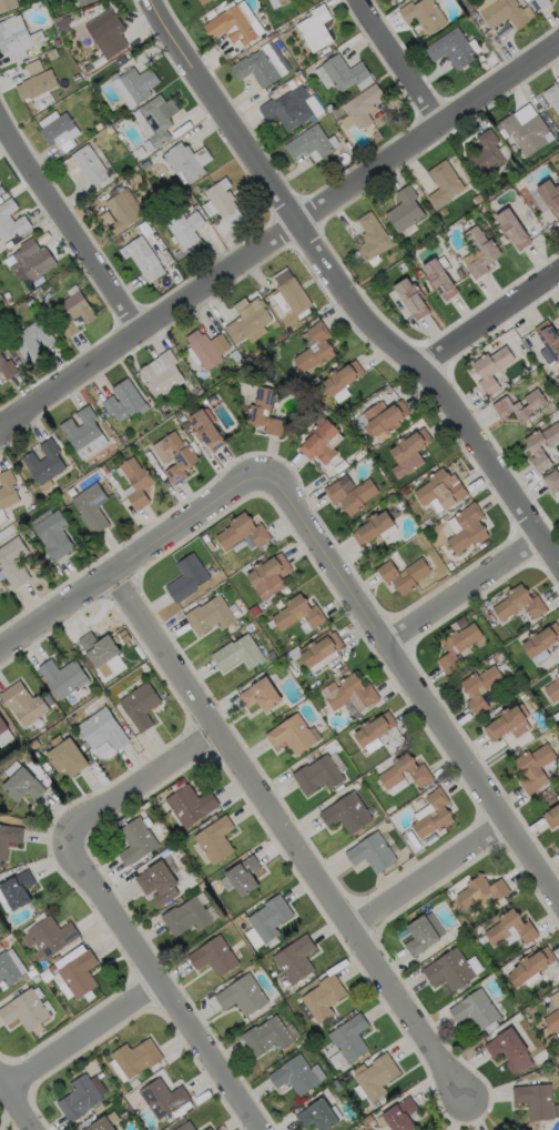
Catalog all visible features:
building: (83, 1)
building: (202, 1)
building: (277, 2)
building: (7, 3)
building: (539, 3)
building: (505, 11)
building: (423, 13)
building: (233, 23)
building: (315, 28)
building: (105, 32)
building: (13, 38)
building: (451, 49)
building: (51, 53)
road: (396, 61)
building: (262, 64)
building: (32, 67)
building: (342, 74)
building: (35, 84)
building: (134, 84)
building: (552, 97)
building: (362, 107)
building: (291, 108)
building: (155, 118)
building: (527, 129)
building: (59, 131)
building: (311, 142)
building: (486, 154)
building: (186, 161)
building: (84, 164)
building: (444, 183)
building: (550, 196)
building: (221, 203)
building: (404, 210)
building: (121, 211)
building: (10, 221)
road: (67, 229)
building: (181, 229)
building: (512, 229)
road: (281, 234)
building: (372, 236)
building: (491, 253)
building: (142, 259)
building: (29, 262)
building: (439, 279)
building: (291, 291)
road: (347, 292)
building: (413, 299)
building: (71, 311)
building: (557, 311)
building: (248, 321)
road: (494, 321)
building: (31, 341)
building: (548, 341)
building: (206, 349)
building: (314, 350)
building: (7, 369)
building: (480, 370)
building: (161, 373)
building: (342, 379)
building: (123, 402)
building: (518, 405)
building: (264, 414)
building: (380, 420)
building: (205, 428)
building: (83, 433)
building: (321, 442)
building: (533, 447)
building: (407, 452)
building: (175, 457)
building: (43, 463)
building: (551, 481)
building: (134, 482)
building: (439, 490)
building: (6, 493)
building: (348, 493)
building: (91, 508)
building: (370, 527)
building: (466, 528)
building: (241, 532)
building: (53, 535)
road: (134, 557)
building: (13, 563)
building: (266, 574)
building: (402, 574)
building: (185, 577)
road: (459, 587)
building: (531, 603)
building: (309, 612)
building: (210, 615)
building: (539, 639)
building: (457, 645)
building: (96, 647)
building: (317, 649)
building: (237, 653)
building: (61, 677)
building: (478, 689)
building: (552, 689)
road: (416, 693)
building: (348, 694)
building: (258, 695)
building: (21, 704)
building: (139, 705)
building: (507, 722)
building: (372, 729)
building: (101, 730)
building: (289, 735)
building: (3, 736)
building: (63, 756)
building: (532, 767)
building: (417, 771)
building: (316, 775)
building: (19, 783)
building: (557, 796)
building: (189, 805)
building: (345, 813)
building: (431, 814)
building: (552, 818)
building: (9, 837)
road: (291, 838)
building: (214, 839)
building: (134, 841)
building: (370, 854)
building: (242, 877)
road: (428, 879)
building: (155, 884)
building: (14, 889)
building: (480, 891)
road: (105, 904)
building: (185, 917)
building: (268, 919)
building: (522, 928)
building: (421, 935)
building: (48, 938)
building: (211, 957)
building: (294, 960)
building: (529, 967)
building: (10, 969)
building: (449, 970)
building: (77, 973)
building: (240, 996)
building: (321, 999)
building: (23, 1010)
building: (475, 1010)
building: (552, 1015)
building: (266, 1037)
road: (85, 1039)
building: (348, 1039)
building: (507, 1049)
building: (136, 1056)
building: (296, 1076)
building: (375, 1077)
building: (82, 1096)
building: (164, 1096)
road: (19, 1100)
building: (536, 1102)
building: (398, 1116)
building: (317, 1117)
building: (102, 1123)
building: (186, 1126)
building: (209, 1128)

